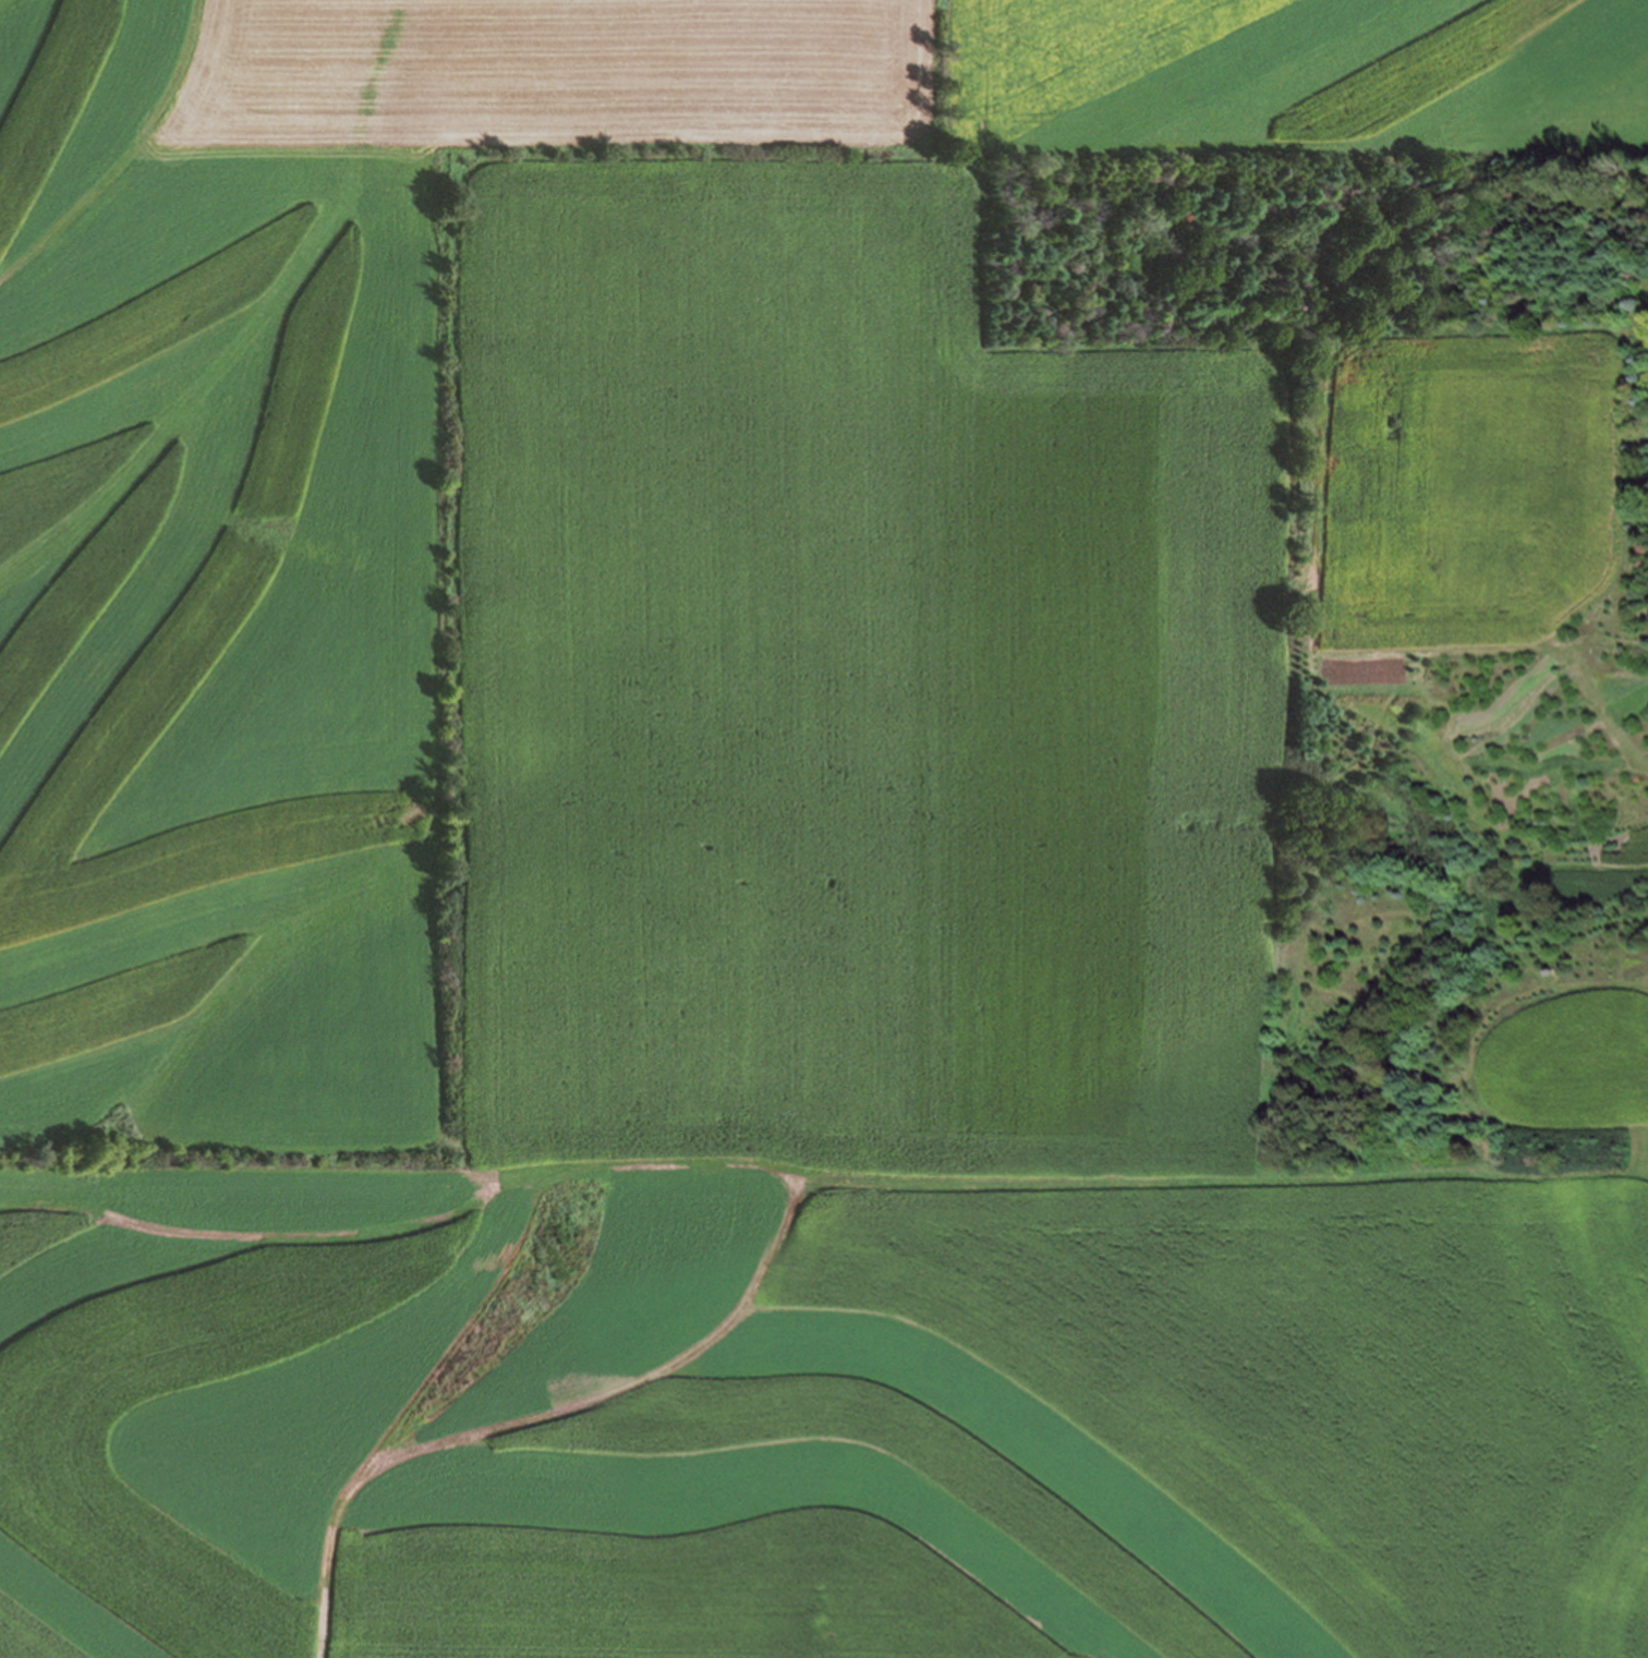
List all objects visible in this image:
road: (389, 1447)

